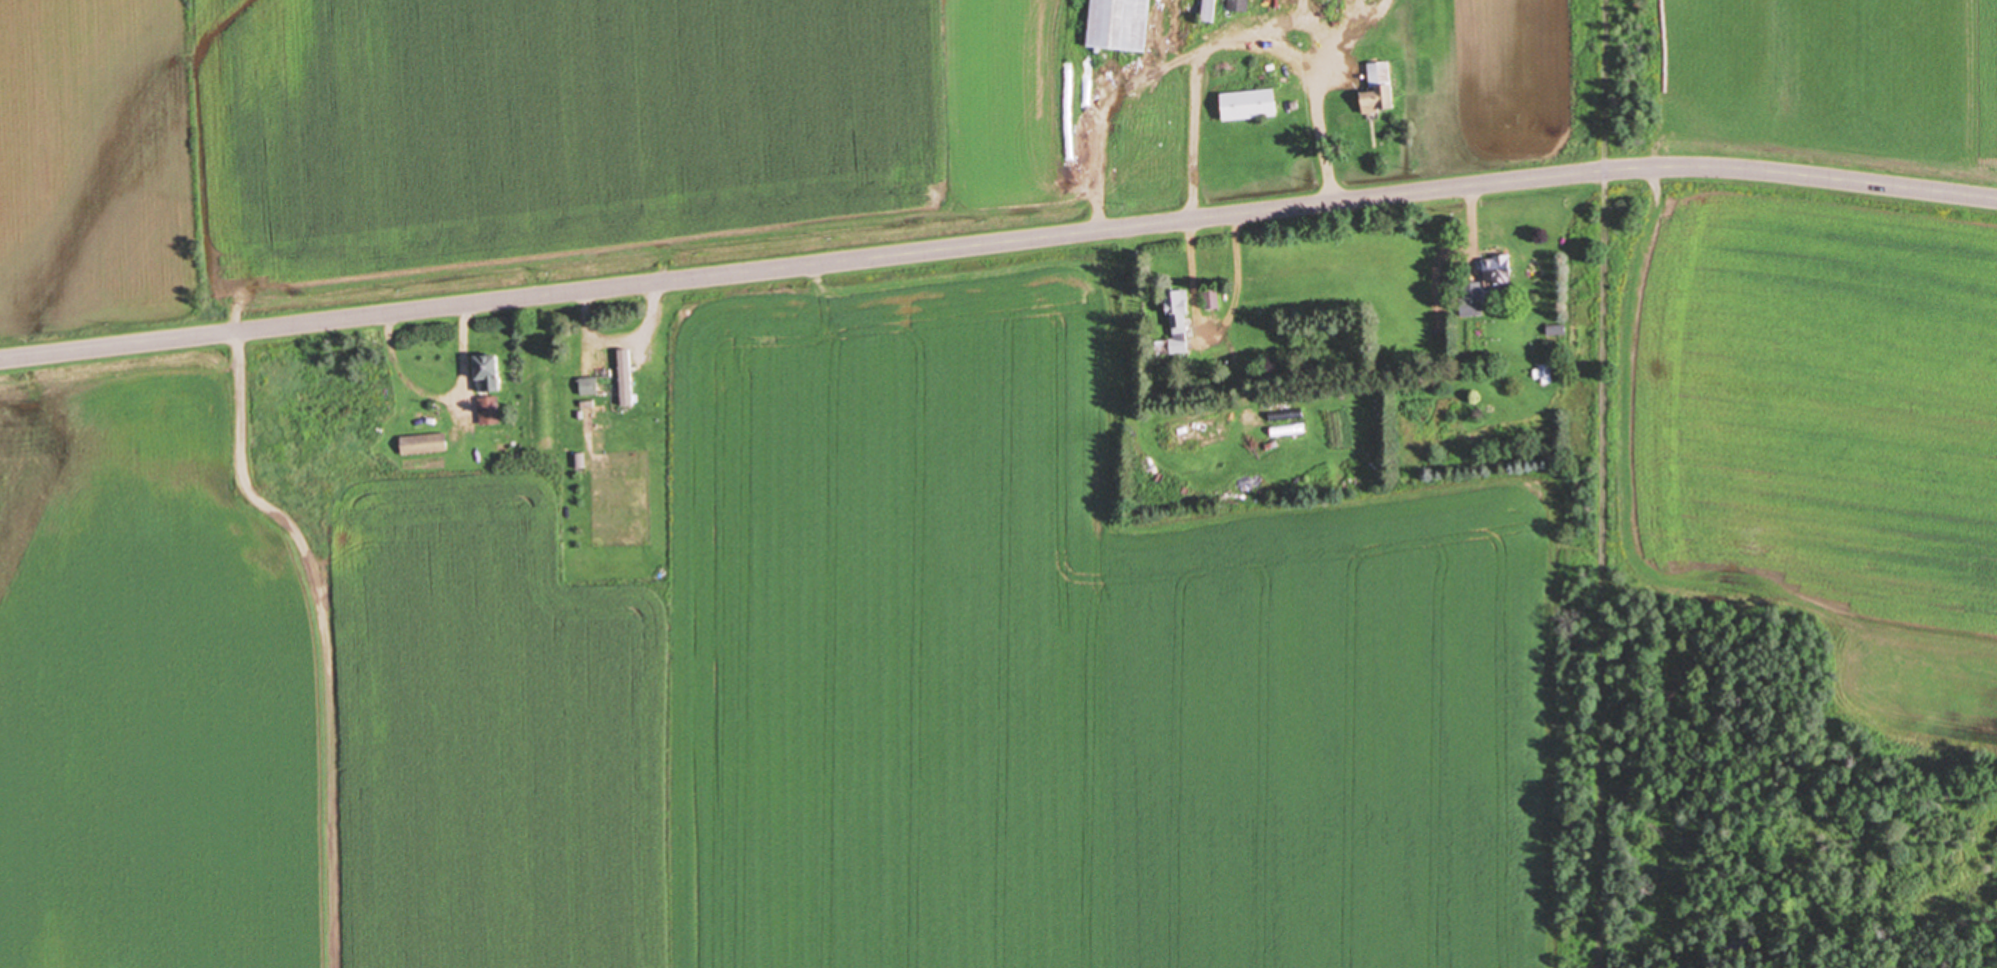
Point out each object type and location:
building: (1210, 11)
building: (1120, 26)
building: (1380, 92)
building: (1250, 107)
road: (1196, 130)
road: (1470, 215)
road: (998, 243)
building: (1498, 275)
building: (1212, 301)
building: (1472, 301)
building: (1179, 323)
road: (586, 326)
building: (605, 373)
building: (590, 388)
building: (489, 392)
road: (446, 401)
building: (425, 445)
road: (1598, 484)
park: (1580, 571)
road: (329, 635)

